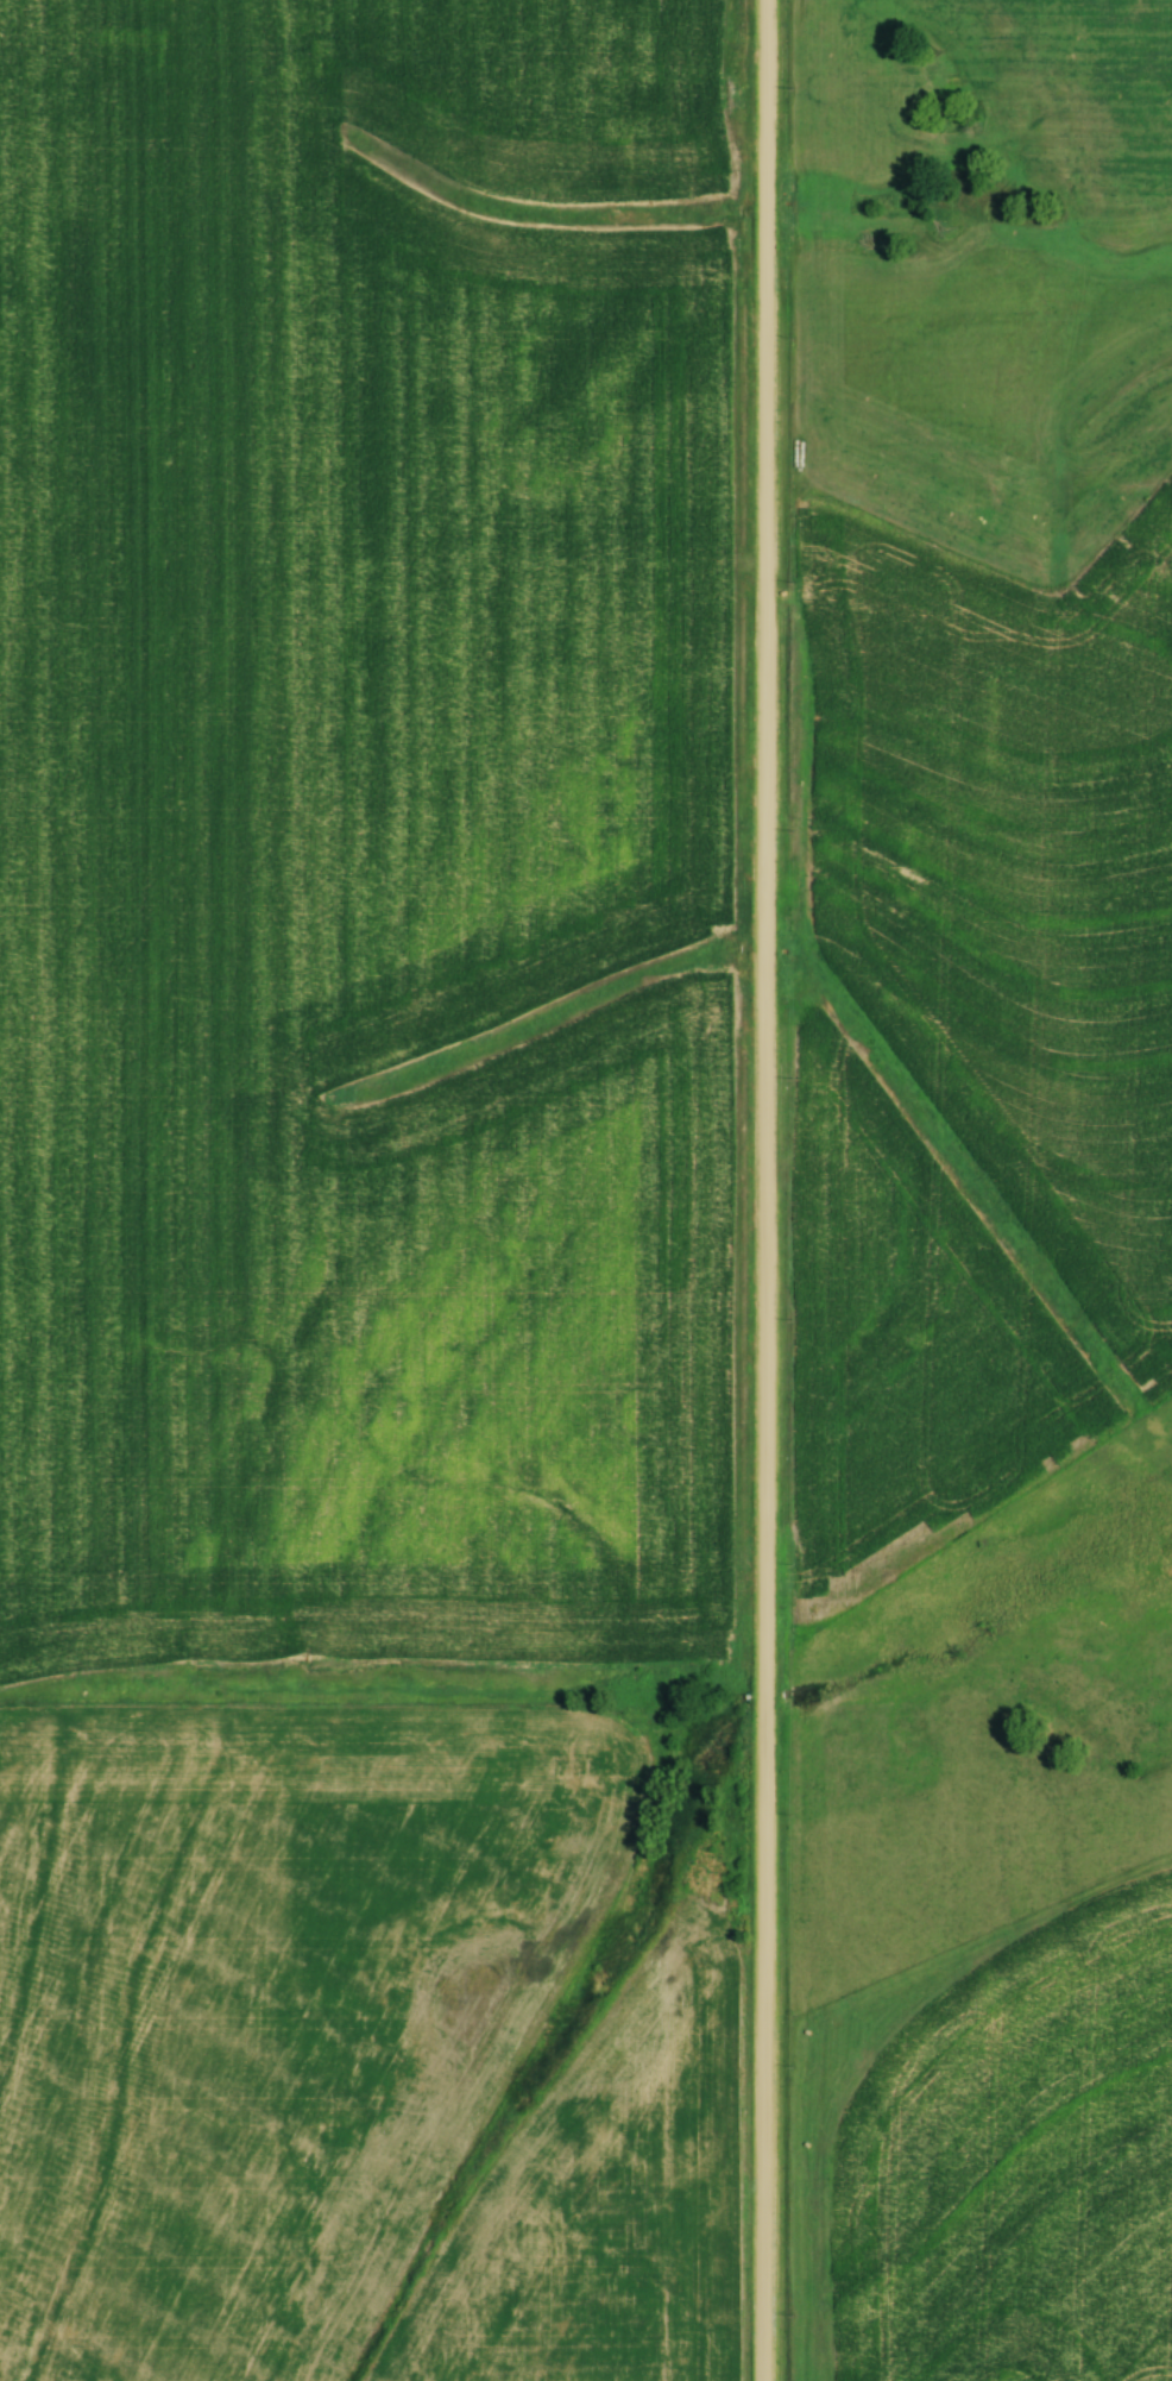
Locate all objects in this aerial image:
road: (756, 1190)

